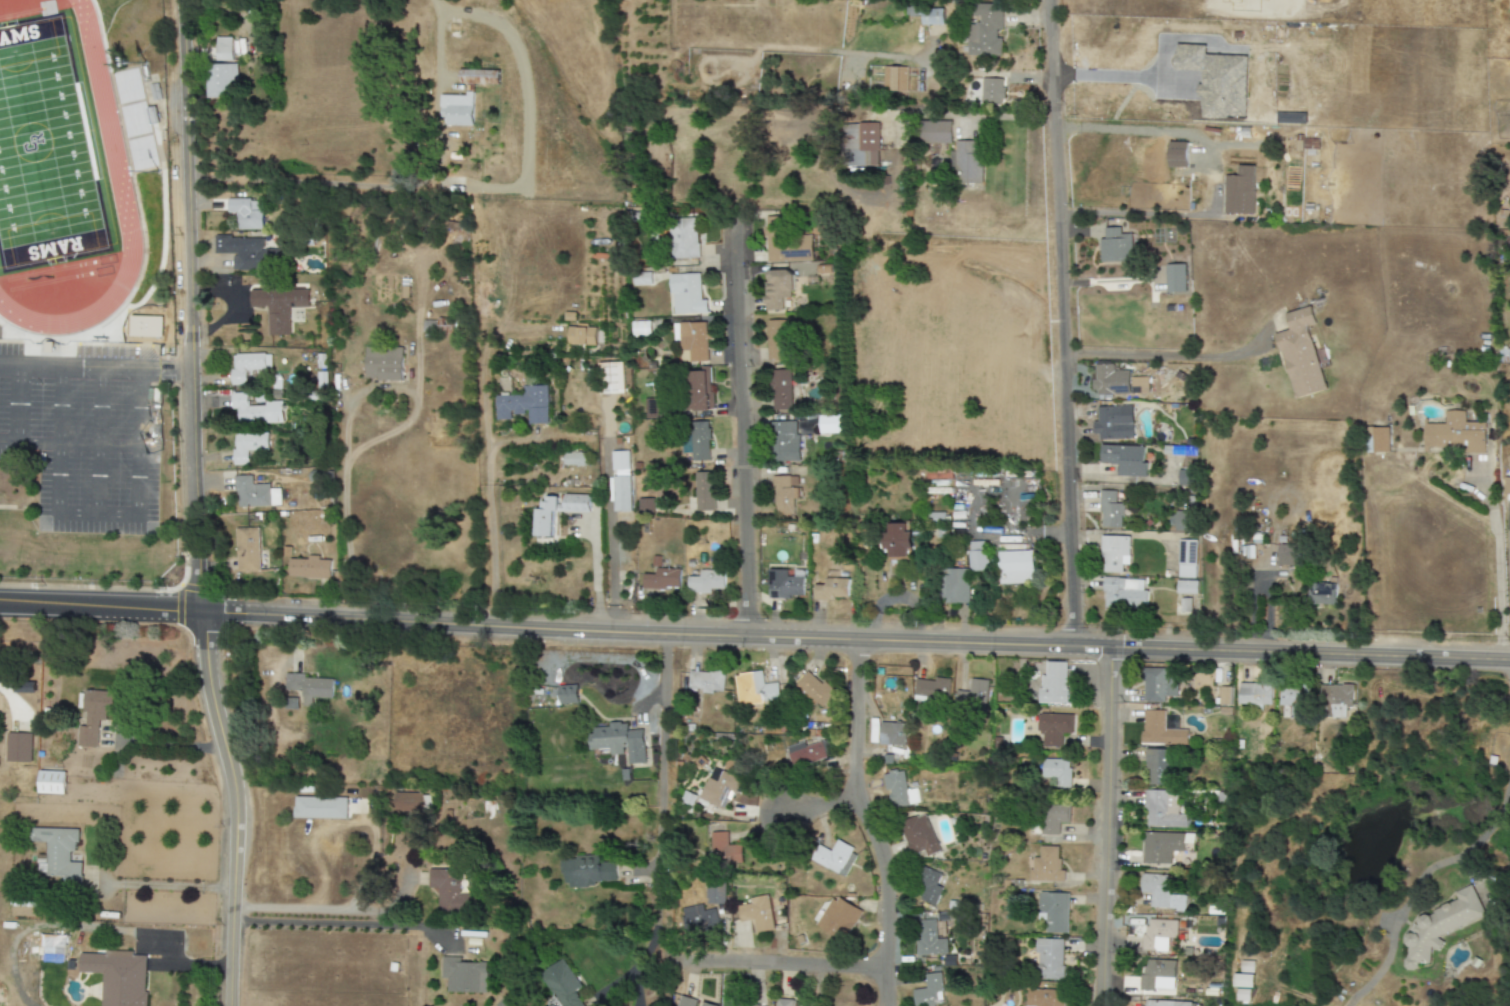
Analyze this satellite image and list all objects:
building: (932, 17)
building: (985, 30)
building: (221, 49)
building: (479, 77)
building: (218, 79)
building: (894, 79)
building: (991, 90)
building: (457, 109)
track: (107, 127)
building: (935, 132)
building: (867, 146)
park: (43, 151)
building: (1177, 155)
building: (968, 166)
building: (1240, 191)
road: (1134, 213)
building: (244, 214)
building: (682, 238)
building: (784, 243)
building: (1115, 246)
building: (247, 253)
building: (1175, 277)
building: (641, 280)
building: (777, 289)
building: (685, 295)
road: (186, 303)
building: (278, 307)
road: (1063, 323)
building: (640, 329)
building: (581, 335)
building: (776, 339)
building: (692, 341)
building: (1300, 354)
road: (1168, 356)
building: (383, 364)
building: (244, 366)
road: (94, 367)
building: (614, 378)
building: (1116, 381)
road: (404, 387)
building: (780, 388)
building: (698, 389)
road: (18, 403)
building: (523, 405)
building: (255, 411)
building: (1113, 423)
road: (741, 424)
building: (829, 424)
road: (345, 428)
building: (1454, 434)
building: (1379, 439)
road: (99, 441)
road: (513, 441)
building: (699, 441)
building: (783, 442)
road: (106, 445)
building: (247, 446)
building: (1178, 450)
building: (574, 458)
building: (1124, 459)
building: (620, 460)
building: (1186, 477)
road: (489, 487)
building: (704, 491)
building: (254, 493)
building: (620, 494)
building: (784, 494)
building: (646, 506)
building: (1110, 511)
road: (57, 515)
building: (544, 519)
road: (614, 520)
building: (1182, 521)
road: (969, 529)
road: (1509, 529)
road: (1017, 532)
road: (346, 535)
building: (897, 540)
building: (246, 549)
building: (1114, 553)
building: (1285, 555)
building: (1187, 559)
road: (1496, 565)
building: (1014, 567)
building: (309, 568)
road: (596, 569)
building: (964, 574)
building: (662, 579)
building: (706, 582)
building: (785, 584)
building: (1186, 587)
building: (831, 590)
building: (1124, 593)
building: (1321, 594)
road: (754, 633)
building: (706, 681)
building: (1053, 683)
building: (1158, 685)
building: (308, 687)
building: (932, 688)
building: (758, 689)
building: (813, 689)
building: (567, 694)
building: (1253, 694)
building: (973, 695)
building: (1223, 696)
building: (1293, 700)
building: (1336, 701)
building: (96, 715)
building: (1053, 729)
building: (1160, 730)
building: (892, 734)
building: (618, 741)
road: (167, 745)
building: (18, 747)
building: (807, 753)
building: (1155, 767)
building: (1056, 772)
building: (51, 782)
building: (718, 788)
building: (899, 791)
road: (233, 803)
building: (407, 803)
road: (816, 805)
building: (320, 807)
building: (1162, 810)
building: (1054, 817)
road: (355, 818)
road: (659, 821)
road: (866, 821)
road: (1104, 827)
building: (919, 835)
building: (1163, 846)
building: (724, 850)
building: (60, 853)
building: (835, 858)
building: (1046, 865)
building: (586, 872)
road: (1416, 878)
road: (166, 885)
building: (929, 887)
building: (448, 890)
building: (714, 893)
building: (1160, 893)
road: (323, 909)
building: (1054, 911)
building: (756, 913)
building: (697, 918)
building: (838, 918)
road: (337, 923)
building: (1439, 926)
building: (1157, 934)
building: (929, 939)
building: (51, 949)
building: (1049, 959)
road: (774, 960)
building: (1153, 973)
building: (463, 976)
building: (118, 977)
building: (1242, 981)
building: (561, 984)
building: (929, 991)
building: (1043, 998)
building: (686, 1001)
building: (783, 1002)
building: (1165, 1003)
building: (705, 1004)

